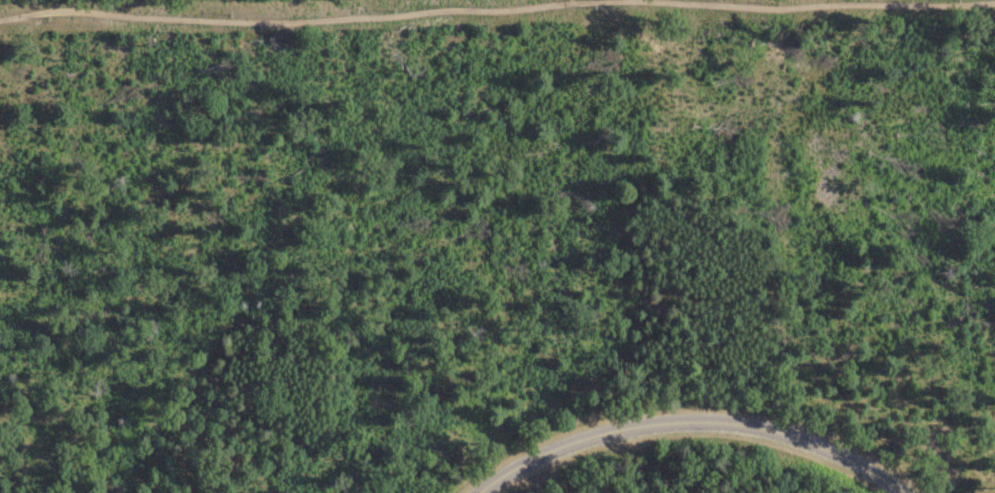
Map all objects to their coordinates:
road: (695, 420)

